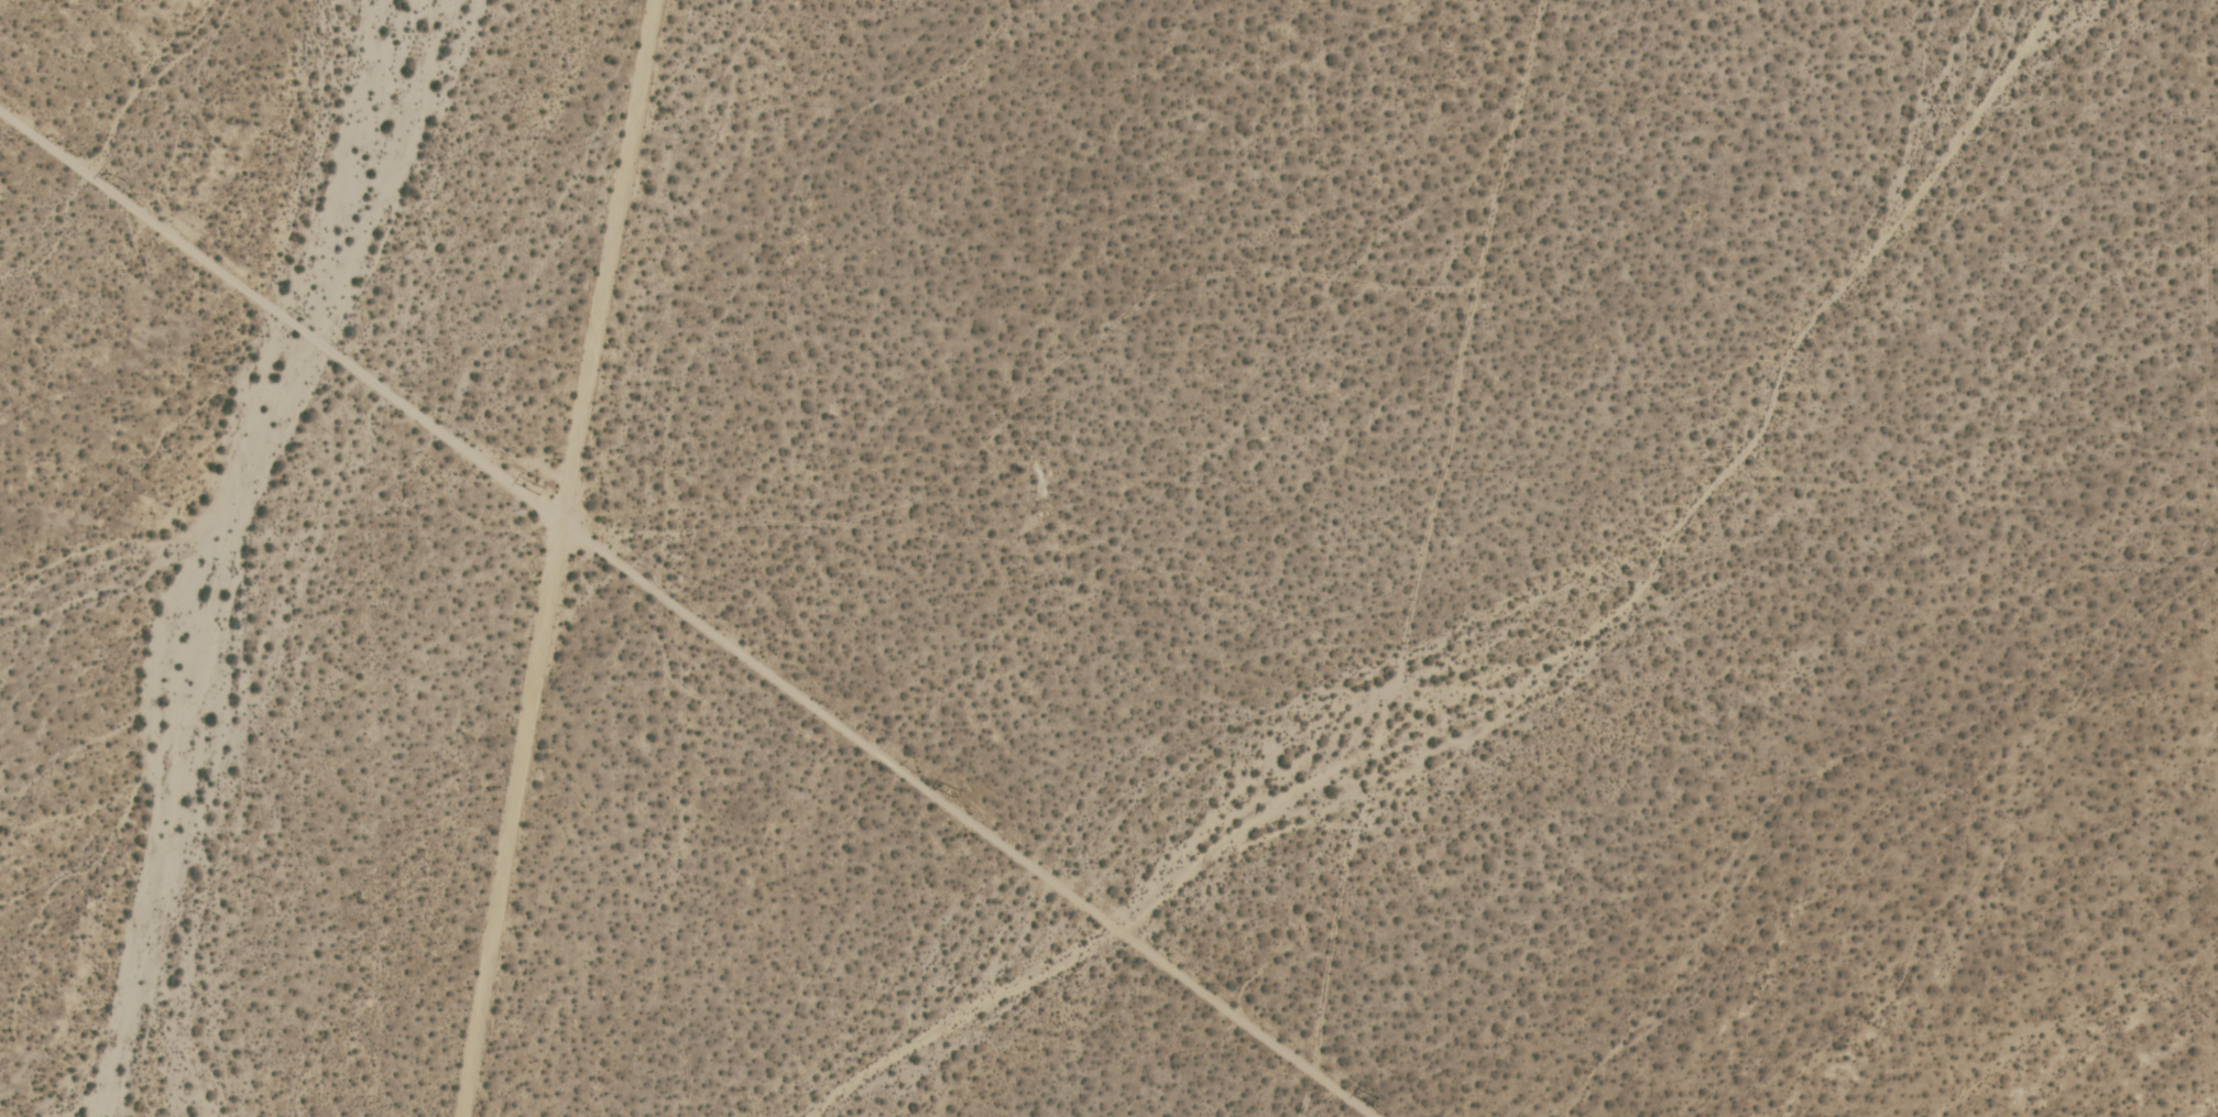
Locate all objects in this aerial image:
power tower: (124, 193)
power tower: (538, 495)
road: (682, 620)
power tower: (955, 799)
power tower: (1375, 1104)

